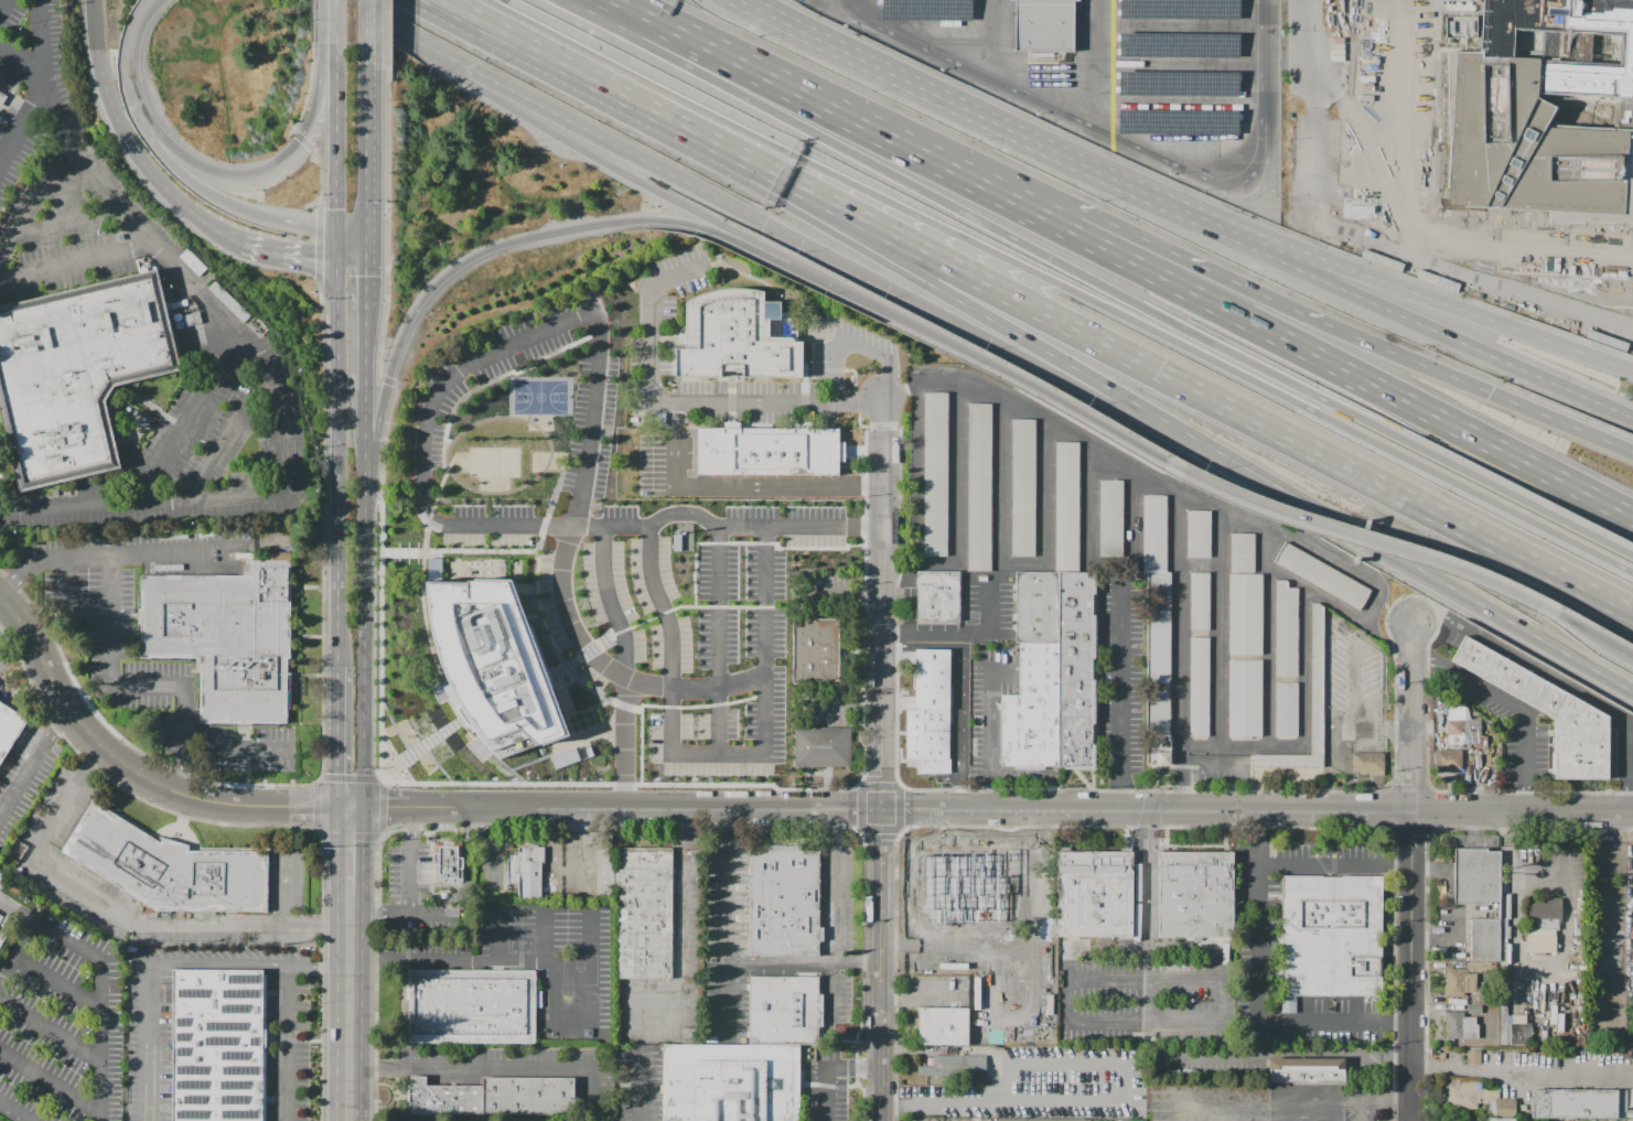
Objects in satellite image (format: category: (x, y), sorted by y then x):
road: (617, 2)
road: (849, 6)
road: (3, 7)
road: (437, 8)
building: (1181, 10)
road: (593, 11)
building: (925, 11)
road: (312, 12)
road: (364, 13)
road: (1307, 13)
road: (335, 19)
building: (1460, 25)
building: (1046, 26)
road: (366, 28)
road: (387, 31)
road: (683, 34)
road: (425, 42)
road: (99, 43)
road: (1309, 43)
road: (415, 44)
building: (1180, 45)
road: (1454, 45)
road: (131, 48)
building: (1570, 48)
road: (335, 51)
road: (662, 53)
road: (1344, 56)
road: (609, 63)
road: (20, 65)
road: (335, 75)
road: (308, 78)
road: (501, 79)
road: (582, 83)
building: (1180, 84)
road: (1312, 84)
road: (12, 86)
road: (918, 86)
road: (481, 90)
road: (1034, 98)
building: (2, 99)
road: (1318, 106)
road: (1416, 109)
road: (1260, 110)
road: (846, 116)
road: (119, 121)
road: (25, 122)
road: (792, 122)
building: (1178, 123)
road: (599, 133)
road: (563, 138)
road: (301, 139)
road: (365, 141)
building: (1527, 148)
road: (336, 157)
road: (796, 157)
road: (1315, 168)
parking lot: (1427, 168)
road: (753, 169)
road: (741, 170)
road: (320, 172)
road: (251, 173)
road: (634, 179)
road: (67, 182)
road: (1002, 183)
road: (1361, 183)
road: (996, 191)
road: (705, 192)
road: (174, 197)
road: (214, 197)
road: (935, 198)
road: (818, 200)
road: (1174, 202)
road: (1438, 205)
road: (1171, 207)
traffic signals: (336, 209)
road: (802, 212)
road: (1405, 215)
road: (923, 218)
road: (67, 219)
road: (386, 219)
road: (715, 220)
road: (760, 220)
road: (685, 223)
traffic signals: (765, 224)
road: (19, 226)
road: (350, 228)
road: (567, 231)
road: (792, 237)
road: (1141, 239)
road: (318, 242)
road: (909, 244)
road: (335, 245)
road: (365, 245)
road: (1292, 247)
road: (158, 250)
road: (275, 252)
road: (785, 257)
road: (1129, 258)
traffic signals: (315, 259)
road: (75, 261)
road: (351, 261)
road: (780, 261)
road: (460, 263)
road: (1285, 263)
road: (900, 267)
traffic signals: (365, 277)
road: (885, 284)
road: (1099, 284)
road: (365, 285)
road: (863, 298)
road: (1089, 299)
road: (861, 300)
road: (652, 314)
road: (1484, 317)
road: (1075, 330)
road: (934, 334)
building: (739, 336)
road: (855, 338)
road: (1360, 338)
road: (365, 349)
road: (1480, 351)
road: (395, 357)
road: (1060, 359)
road: (1052, 369)
building: (77, 374)
road: (386, 379)
road: (1044, 389)
traffic signals: (1492, 394)
park: (544, 398)
road: (1, 400)
road: (766, 401)
road: (151, 407)
road: (1423, 410)
road: (190, 419)
road: (1562, 422)
road: (365, 435)
road: (228, 438)
road: (375, 441)
road: (1415, 445)
road: (1153, 451)
building: (769, 452)
road: (1411, 460)
road: (337, 463)
parking lot: (665, 463)
park: (497, 464)
road: (1229, 464)
road: (1140, 473)
building: (936, 474)
road: (738, 485)
building: (980, 487)
building: (1023, 488)
road: (1400, 496)
road: (1, 498)
road: (143, 499)
building: (1067, 507)
road: (882, 515)
building: (1111, 519)
road: (495, 525)
building: (1200, 535)
road: (1365, 536)
road: (99, 553)
road: (1393, 554)
parking lot: (643, 560)
road: (363, 568)
building: (432, 569)
road: (565, 575)
building: (1322, 575)
road: (67, 580)
road: (308, 586)
building: (1157, 589)
parking lot: (828, 591)
road: (907, 591)
road: (841, 592)
building: (1245, 596)
building: (938, 597)
building: (1200, 602)
road: (613, 603)
building: (1038, 607)
road: (1629, 613)
road: (94, 614)
road: (137, 616)
road: (50, 617)
road: (109, 619)
road: (7, 629)
building: (1287, 630)
road: (960, 633)
road: (1598, 635)
road: (308, 636)
building: (229, 639)
road: (721, 642)
building: (815, 650)
building: (496, 666)
building: (1078, 671)
road: (309, 676)
building: (1318, 681)
road: (147, 687)
building: (1200, 687)
road: (97, 690)
road: (957, 690)
road: (14, 692)
building: (1329, 692)
road: (1120, 698)
building: (1246, 699)
road: (842, 703)
road: (1513, 705)
parking lot: (826, 708)
building: (1032, 710)
building: (1288, 711)
building: (1549, 713)
building: (931, 714)
road: (1411, 718)
road: (880, 720)
building: (1461, 721)
building: (1158, 727)
building: (1336, 730)
building: (10, 731)
building: (1365, 731)
road: (362, 732)
road: (247, 733)
road: (986, 733)
road: (337, 737)
road: (183, 741)
road: (322, 741)
road: (629, 742)
road: (236, 750)
building: (824, 750)
road: (110, 753)
road: (247, 755)
road: (718, 755)
road: (34, 759)
building: (1448, 759)
road: (1188, 762)
building: (1368, 763)
road: (1038, 773)
road: (1629, 774)
road: (248, 778)
road: (315, 805)
road: (320, 807)
traffic signals: (352, 807)
road: (383, 807)
road: (942, 810)
road: (1489, 811)
road: (1514, 811)
road: (1578, 811)
road: (260, 824)
road: (1472, 827)
road: (1564, 841)
road: (1504, 843)
road: (581, 850)
road: (351, 851)
road: (488, 852)
building: (930, 853)
building: (956, 862)
building: (449, 863)
road: (1406, 864)
park: (287, 865)
building: (169, 866)
building: (529, 871)
road: (1540, 873)
road: (466, 874)
building: (1476, 877)
road: (836, 886)
road: (684, 892)
road: (879, 894)
building: (1095, 895)
building: (1196, 895)
building: (1004, 898)
building: (785, 903)
building: (638, 907)
road: (569, 913)
building: (0, 914)
road: (724, 914)
road: (1145, 917)
road: (1259, 917)
building: (1, 918)
road: (204, 921)
building: (927, 924)
building: (1543, 924)
road: (52, 926)
road: (497, 935)
building: (1330, 936)
road: (542, 937)
building: (2, 939)
building: (1484, 940)
road: (17, 945)
road: (472, 960)
road: (217, 963)
road: (593, 963)
building: (926, 963)
road: (1537, 963)
road: (801, 964)
road: (319, 966)
road: (1410, 967)
road: (1141, 978)
road: (57, 979)
building: (1459, 982)
road: (925, 1000)
road: (1066, 1000)
building: (472, 1006)
road: (351, 1009)
building: (1474, 1009)
building: (784, 1010)
building: (1045, 1023)
road: (1142, 1023)
road: (1333, 1024)
building: (944, 1025)
building: (1460, 1026)
road: (51, 1027)
building: (1519, 1034)
road: (103, 1038)
road: (271, 1039)
road: (291, 1041)
road: (146, 1042)
road: (288, 1042)
road: (314, 1042)
building: (219, 1046)
road: (879, 1050)
road: (1281, 1054)
building: (1473, 1057)
road: (1068, 1063)
building: (955, 1066)
road: (375, 1068)
road: (497, 1069)
road: (853, 1069)
building: (1309, 1070)
road: (1521, 1077)
road: (51, 1079)
building: (732, 1082)
road: (1356, 1087)
building: (1464, 1093)
road: (642, 1095)
road: (825, 1095)
building: (493, 1097)
road: (1384, 1100)
road: (995, 1101)
building: (1576, 1104)
building: (1505, 1108)
road: (17, 1110)
building: (1502, 1119)
building: (1011, 1120)
building: (1041, 1120)
building: (1072, 1120)

